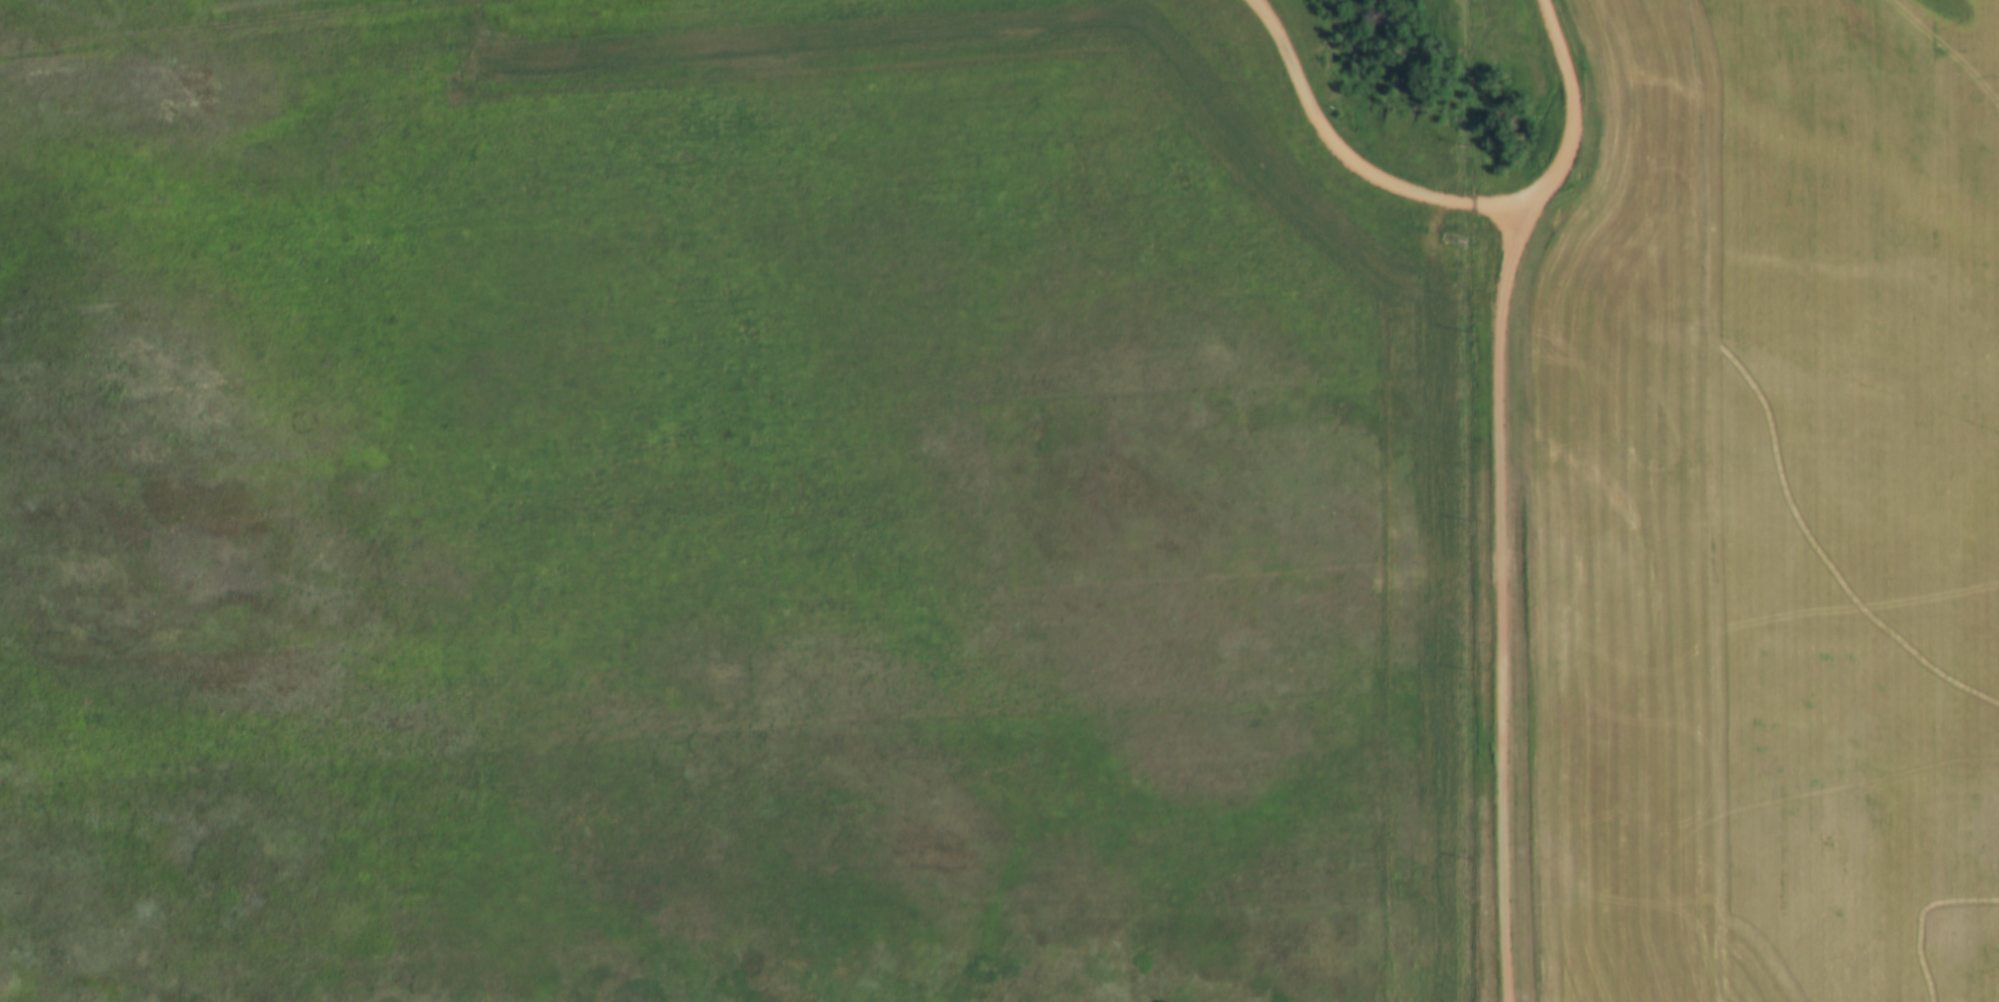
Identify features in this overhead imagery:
road: (1451, 200)
road: (1450, 598)

